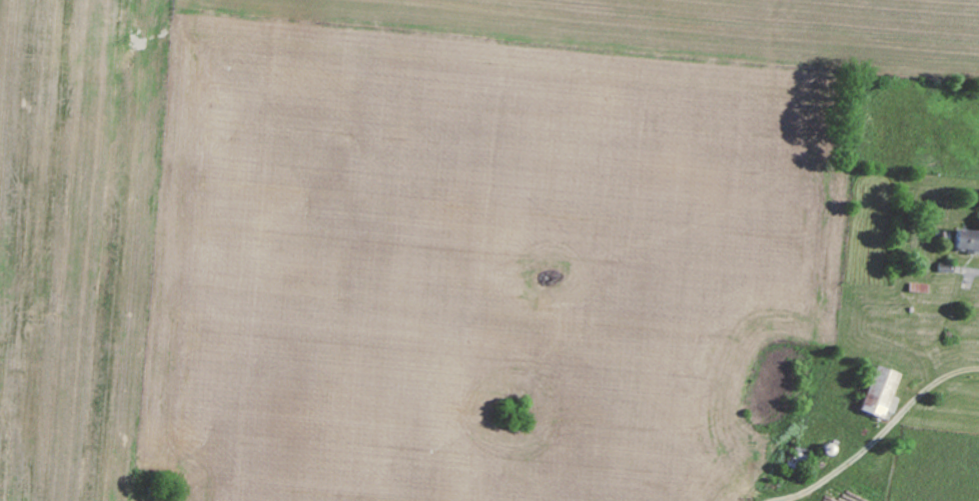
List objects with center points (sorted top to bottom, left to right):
road: (956, 372)
building: (881, 391)
road: (866, 450)

